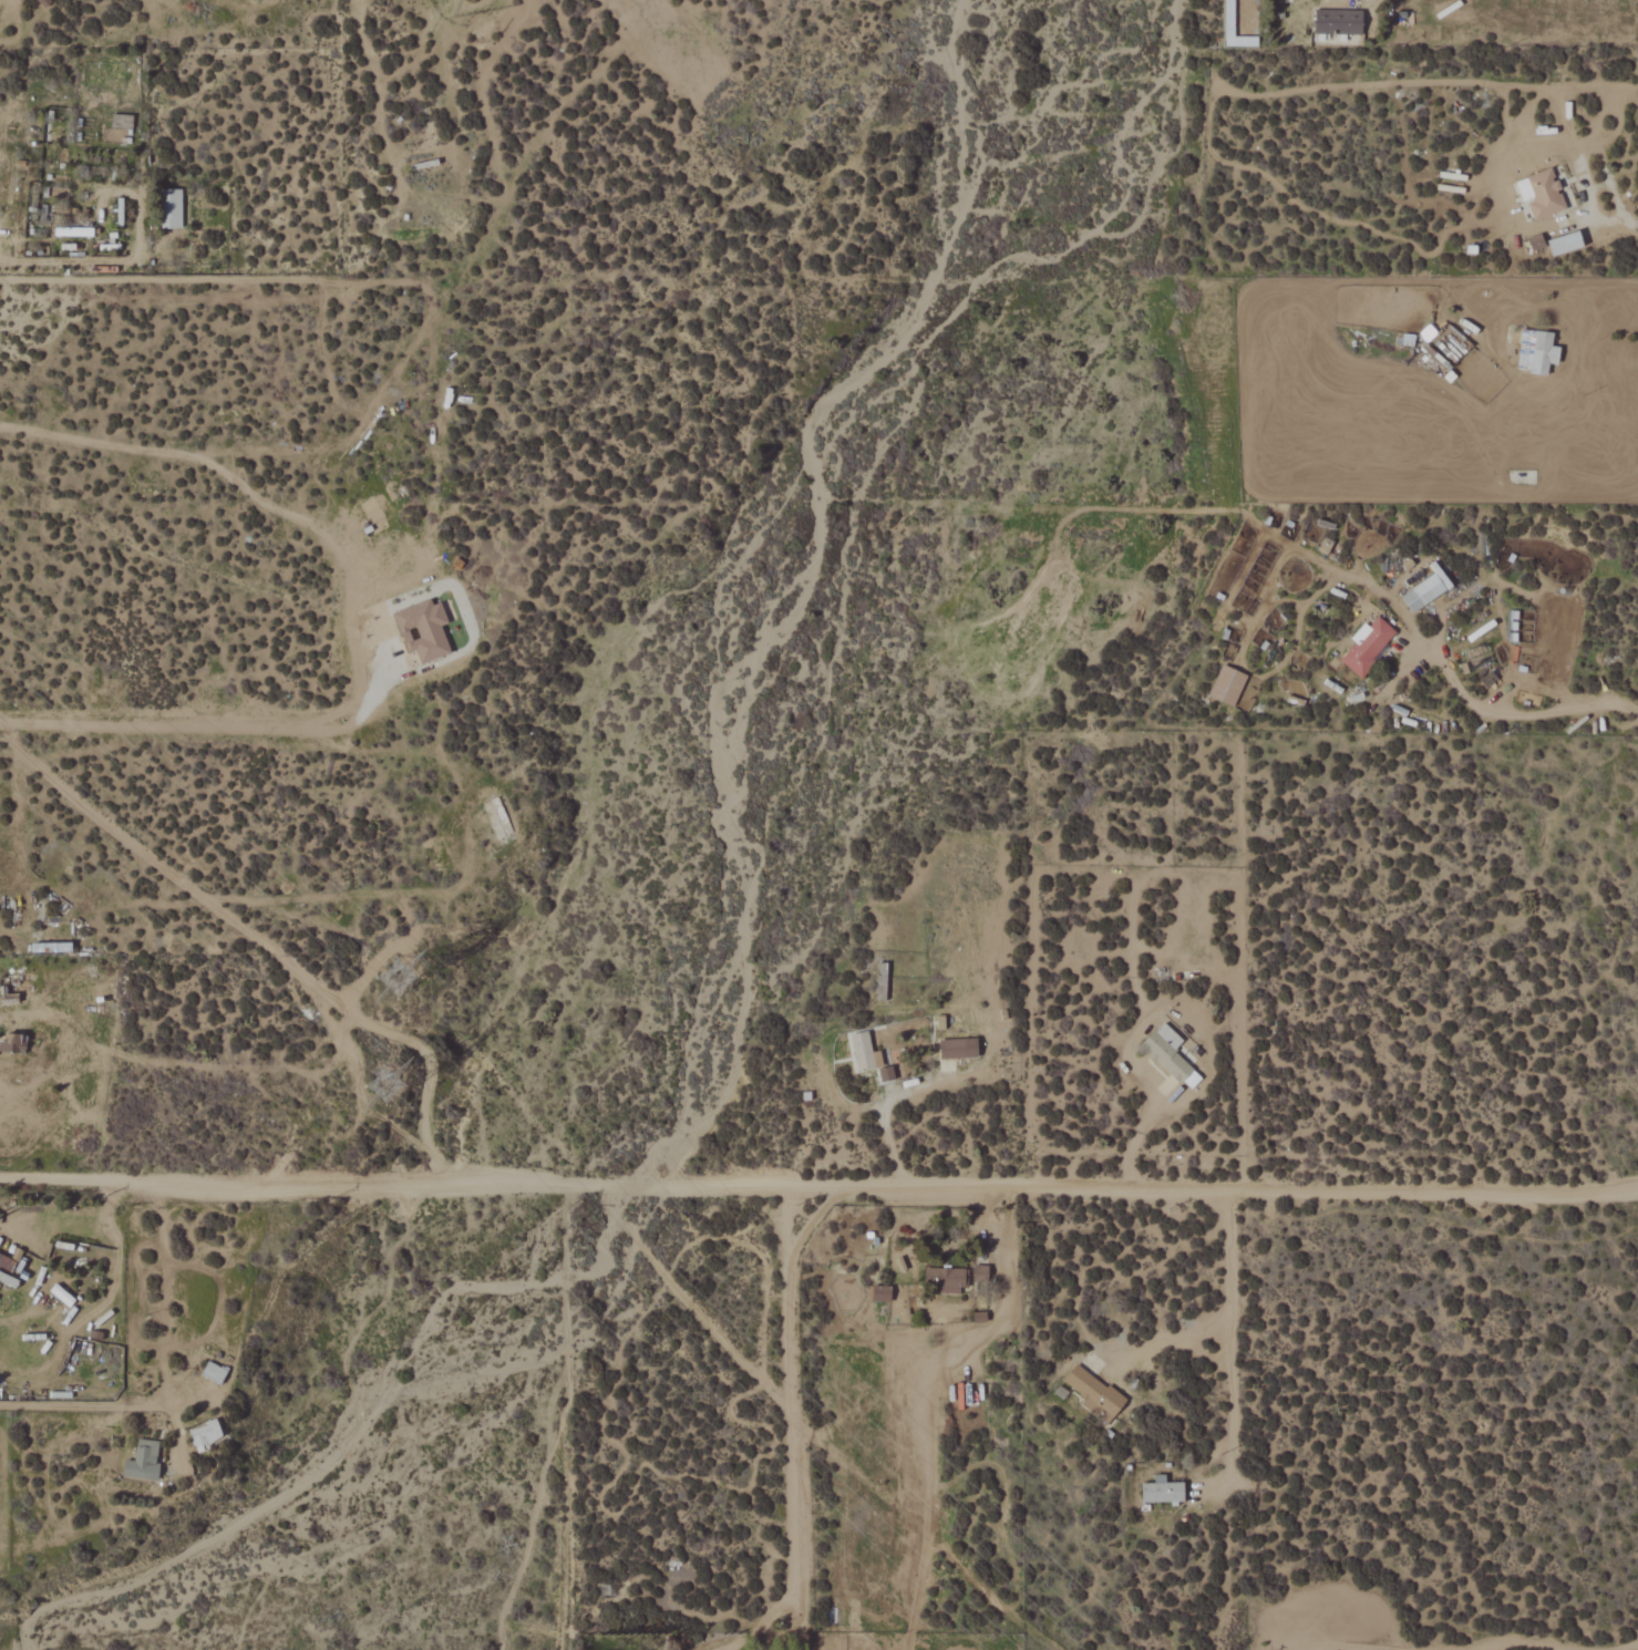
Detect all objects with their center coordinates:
road: (377, 93)
road: (1587, 184)
building: (1542, 195)
building: (171, 209)
road: (1630, 220)
building: (1537, 243)
building: (1566, 245)
road: (25, 258)
building: (1537, 352)
road: (258, 488)
building: (424, 630)
building: (1369, 646)
road: (185, 711)
road: (1518, 714)
road: (279, 957)
power tower: (396, 973)
building: (882, 980)
building: (11, 1043)
building: (959, 1049)
building: (865, 1052)
building: (1172, 1055)
power tower: (381, 1089)
road: (883, 1105)
road: (1135, 1133)
road: (818, 1184)
building: (947, 1280)
building: (882, 1293)
road: (1232, 1334)
road: (1167, 1339)
building: (214, 1373)
building: (1093, 1393)
road: (789, 1400)
road: (86, 1407)
road: (812, 1430)
building: (206, 1434)
building: (143, 1461)
building: (1163, 1492)
road: (1548, 1643)
road: (1335, 1647)

